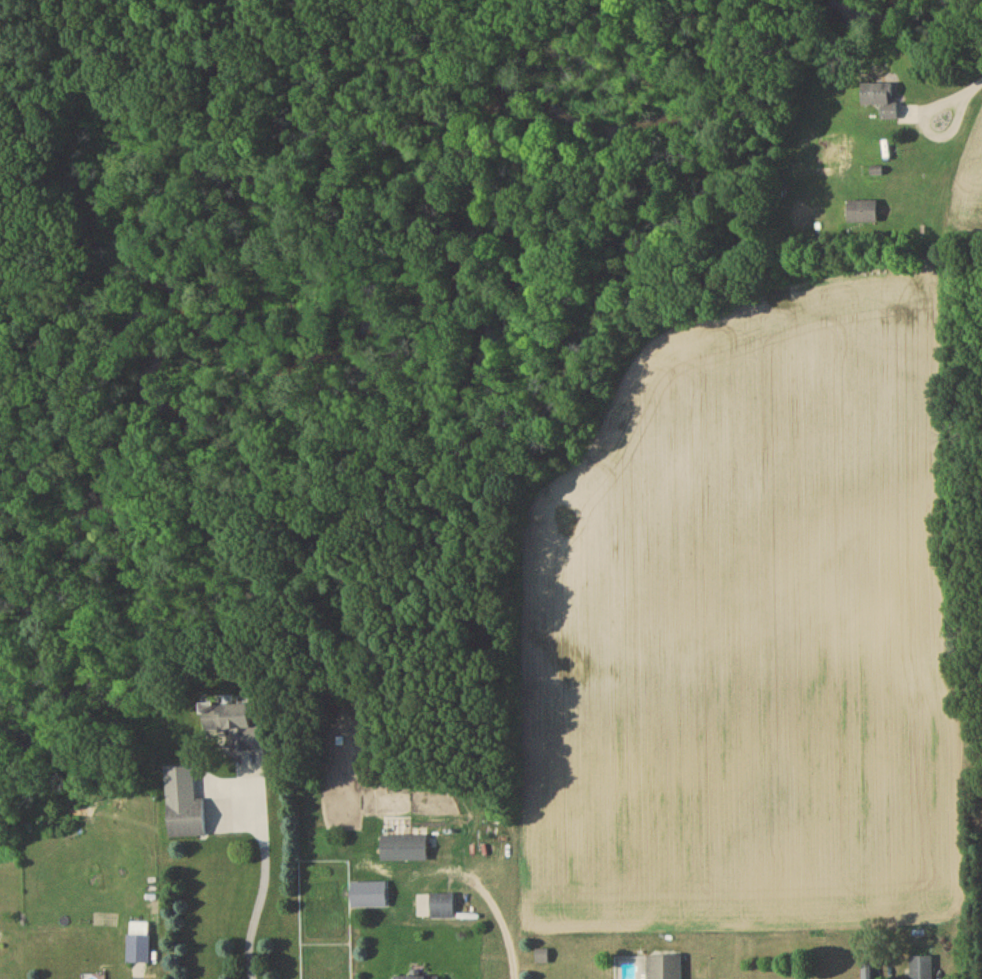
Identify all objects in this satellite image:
road: (975, 90)
building: (883, 102)
building: (863, 214)
building: (236, 727)
building: (187, 821)
building: (404, 851)
road: (263, 890)
building: (442, 908)
road: (502, 926)
building: (139, 945)
building: (664, 968)
building: (921, 969)
building: (865, 975)
building: (418, 978)

